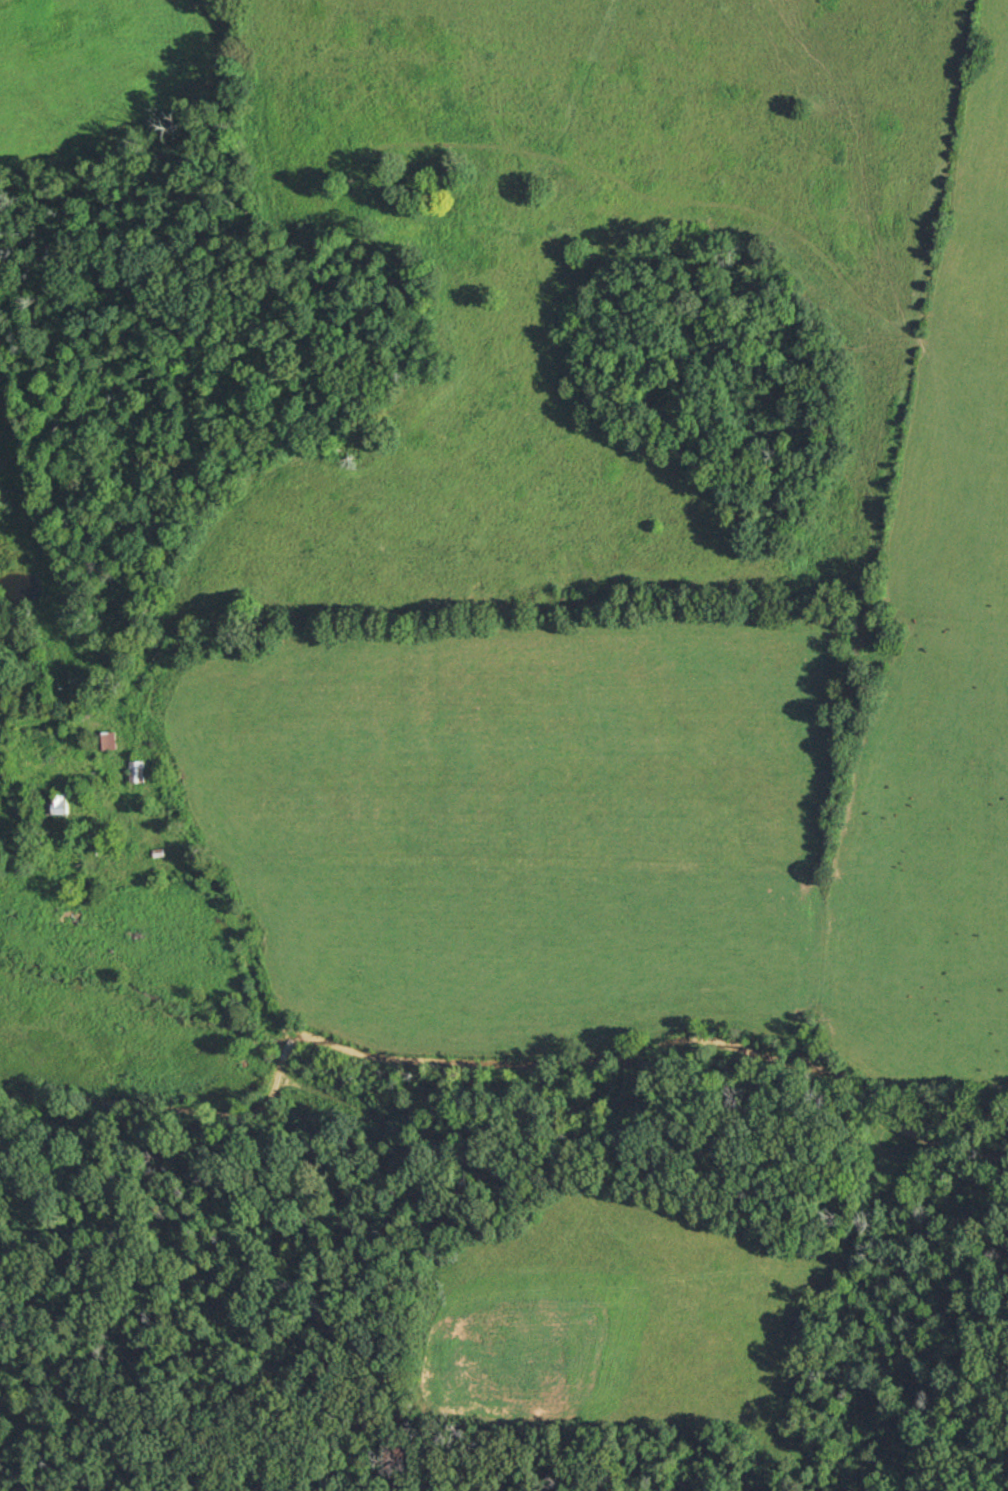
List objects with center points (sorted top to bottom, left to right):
building: (109, 740)
building: (139, 771)
building: (61, 806)
road: (228, 902)
road: (661, 1046)
road: (179, 1146)

